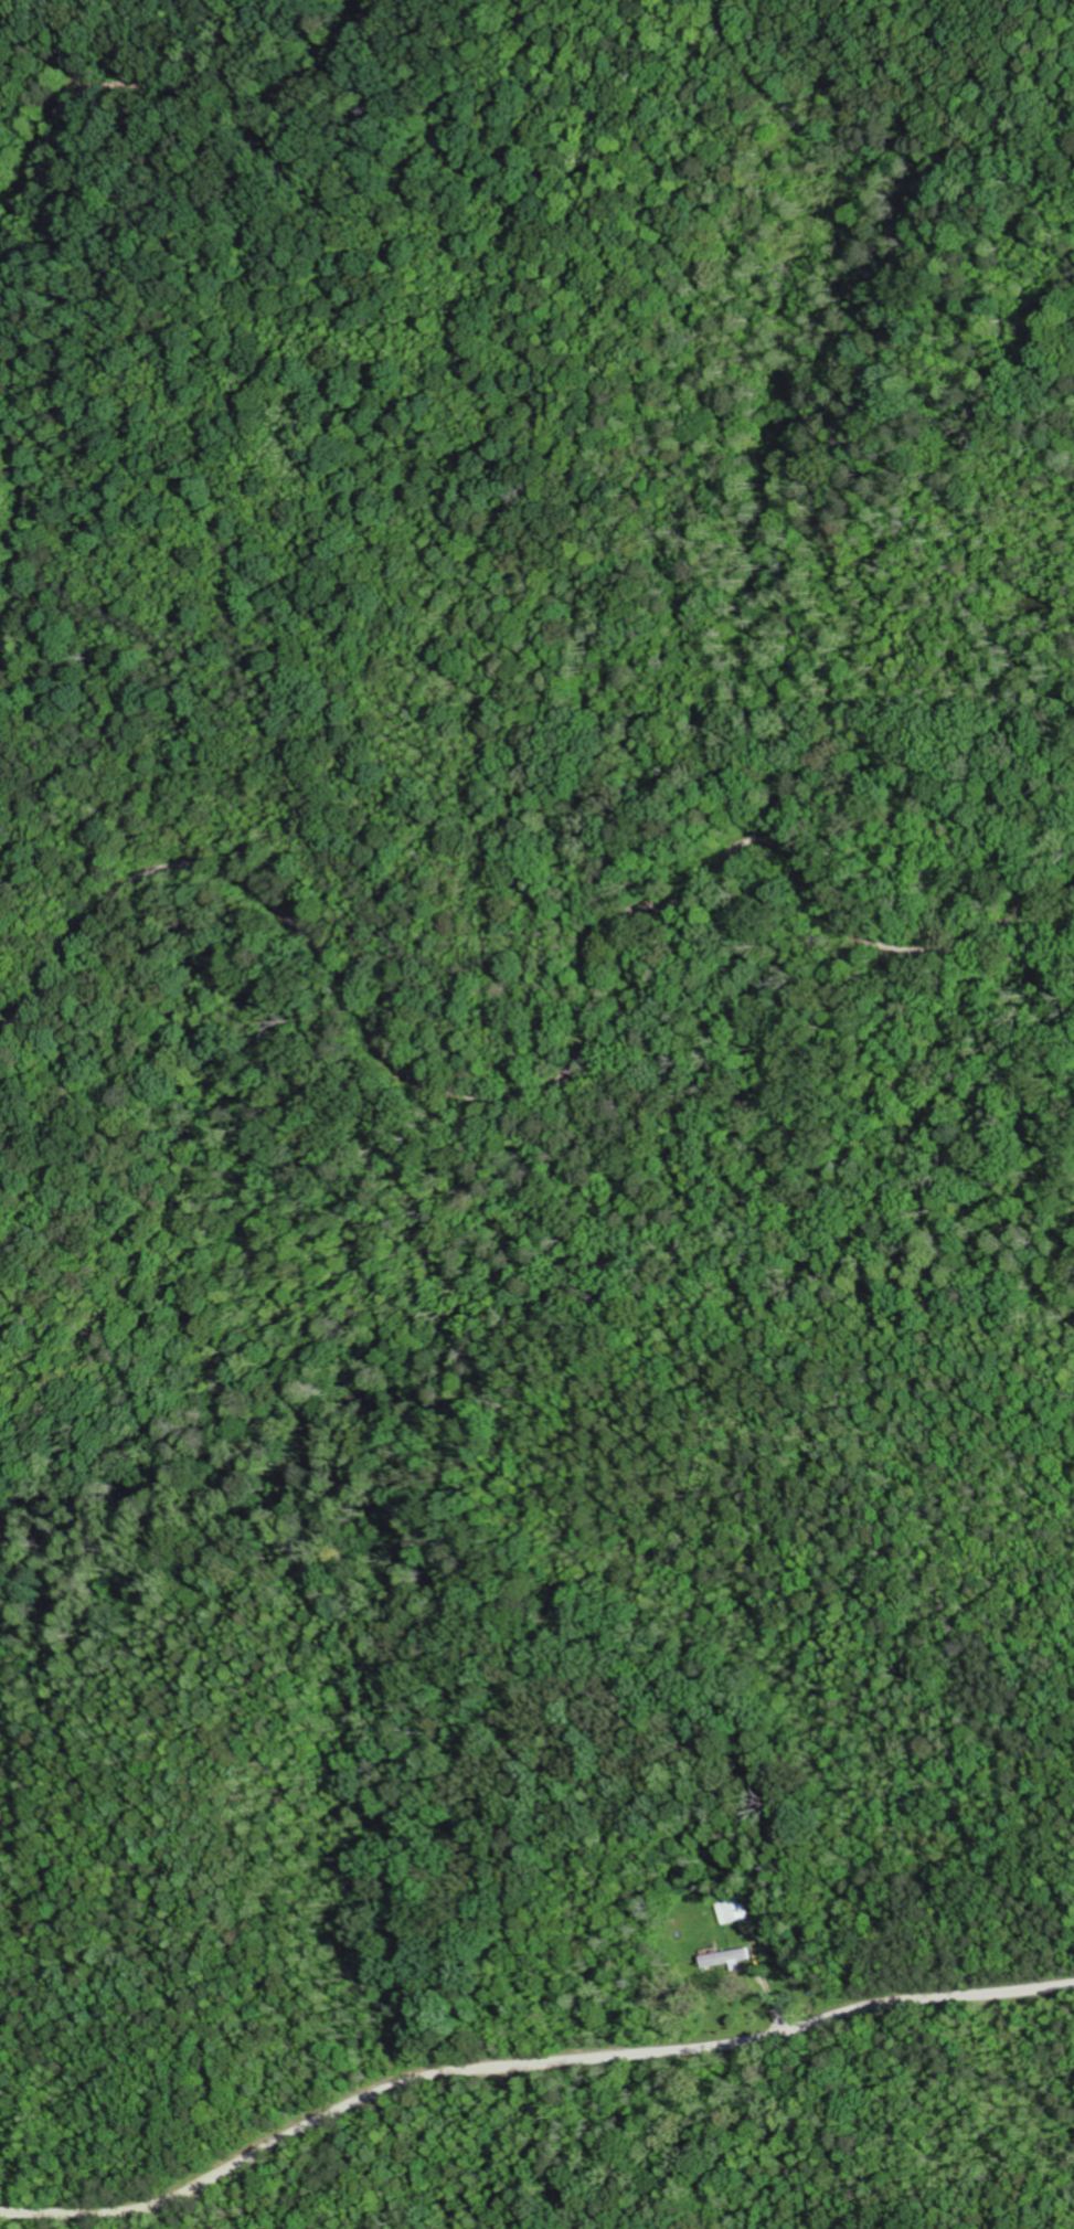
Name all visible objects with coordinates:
road: (149, 81)
road: (33, 541)
road: (555, 1083)
road: (525, 2065)

